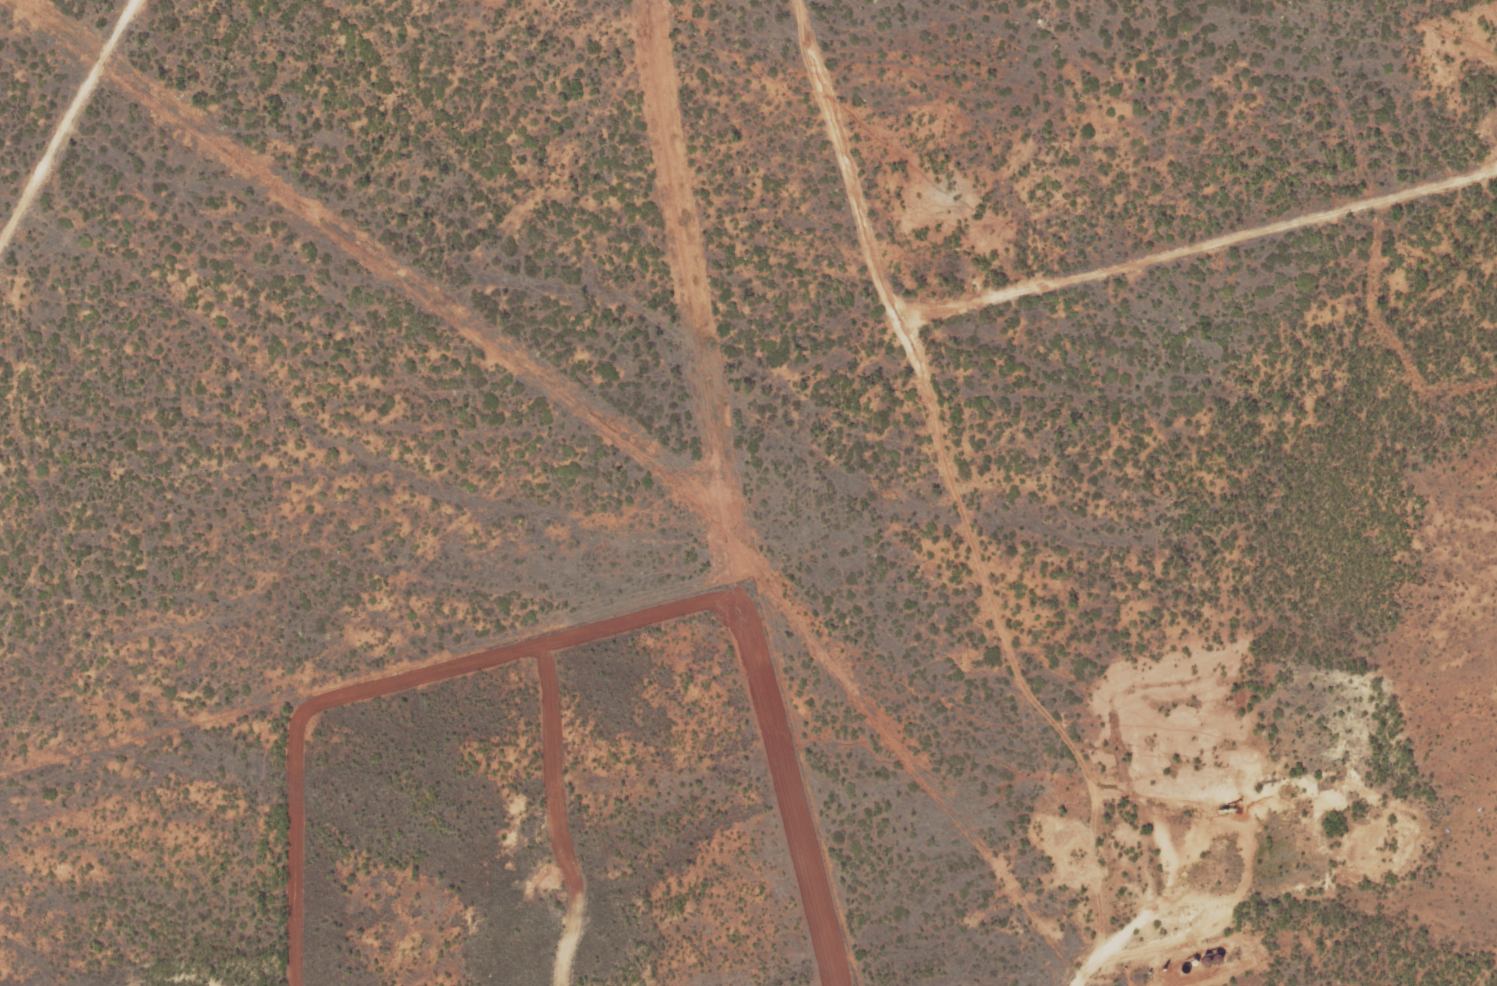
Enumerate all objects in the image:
road: (66, 123)
road: (994, 303)

